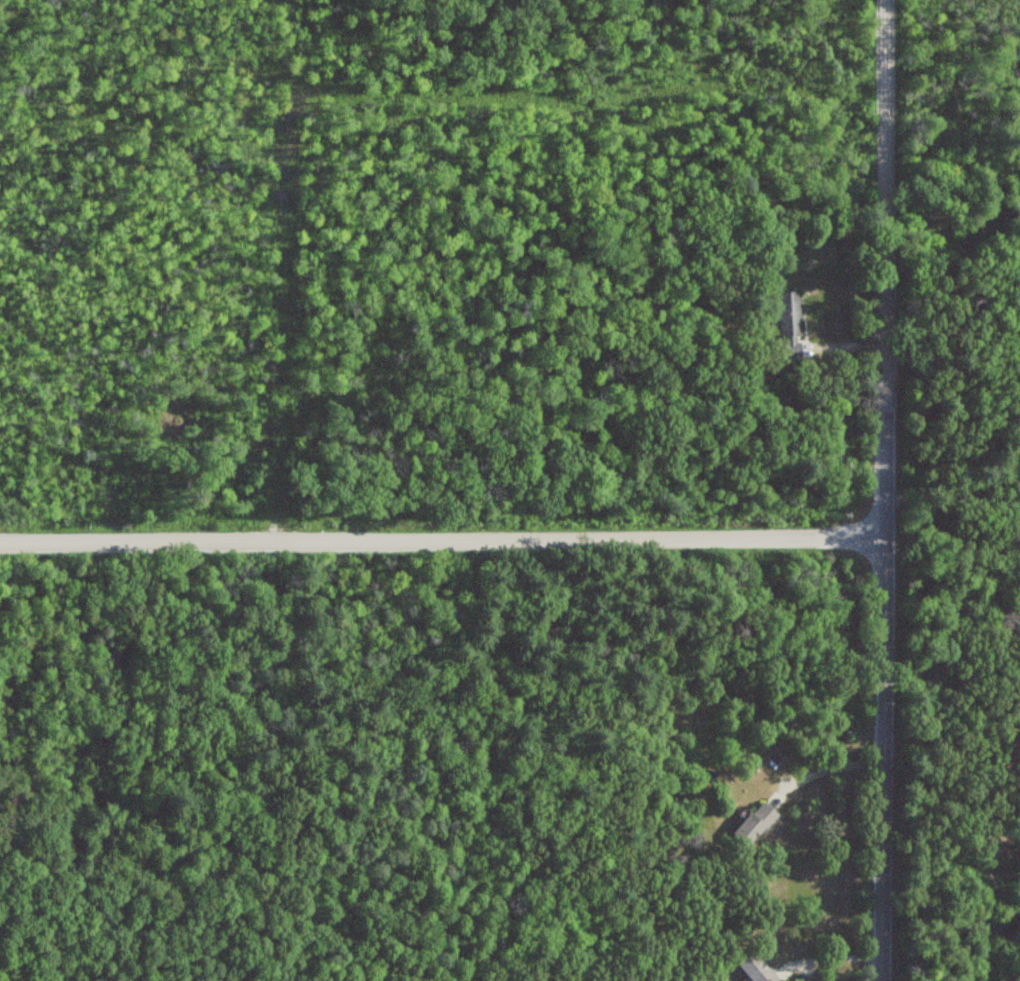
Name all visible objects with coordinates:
building: (788, 326)
road: (885, 490)
road: (953, 525)
road: (443, 543)
road: (830, 769)
building: (754, 824)
building: (755, 970)

